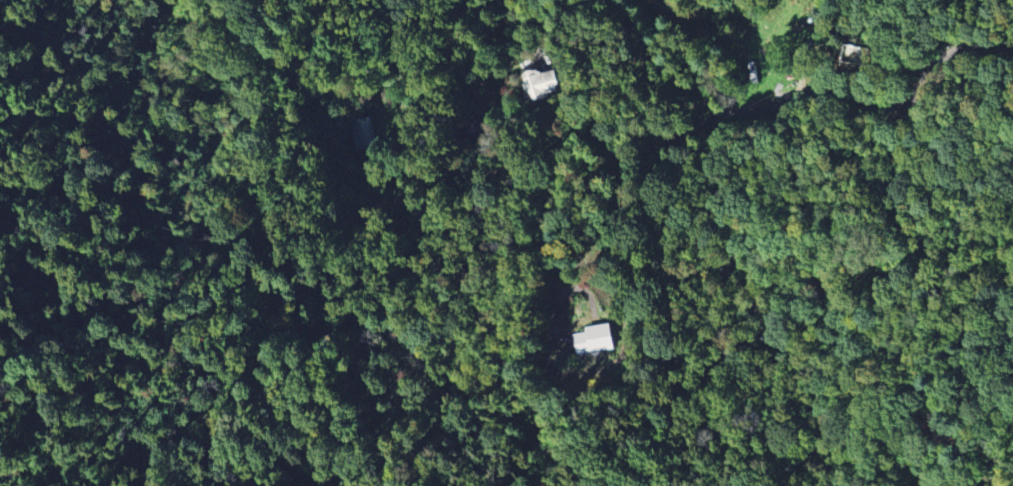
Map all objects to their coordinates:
road: (800, 98)
building: (363, 133)
building: (593, 340)

